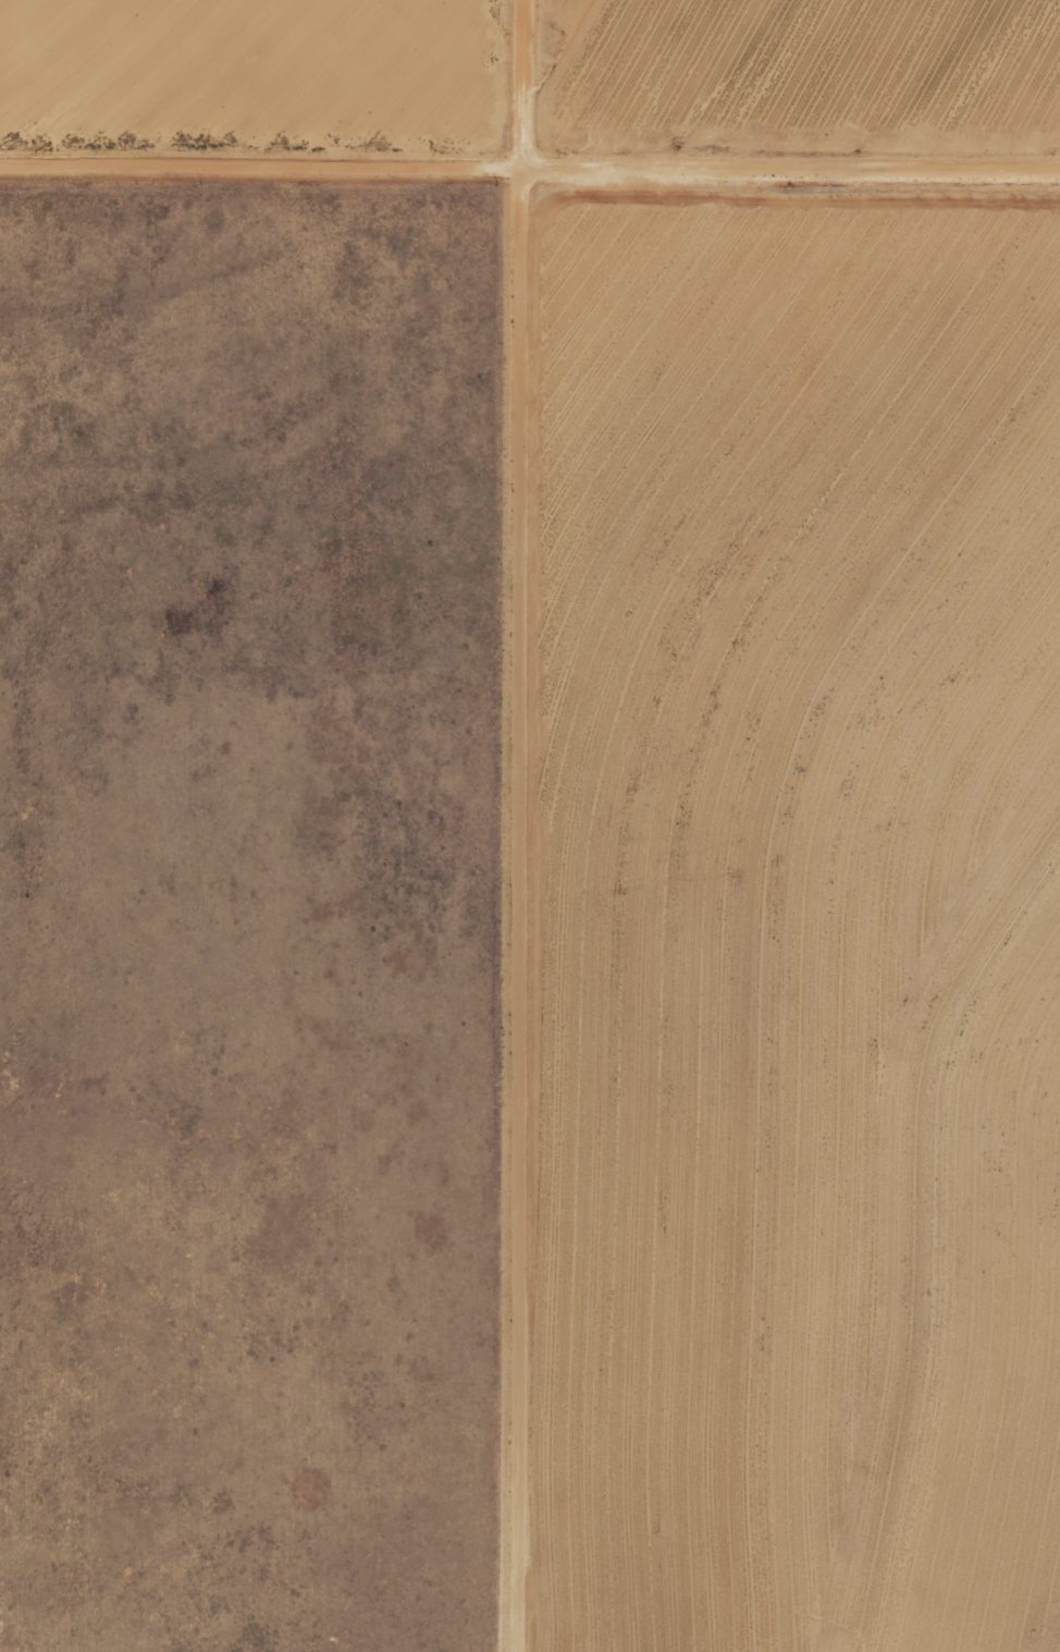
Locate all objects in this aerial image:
road: (530, 172)
road: (514, 825)

